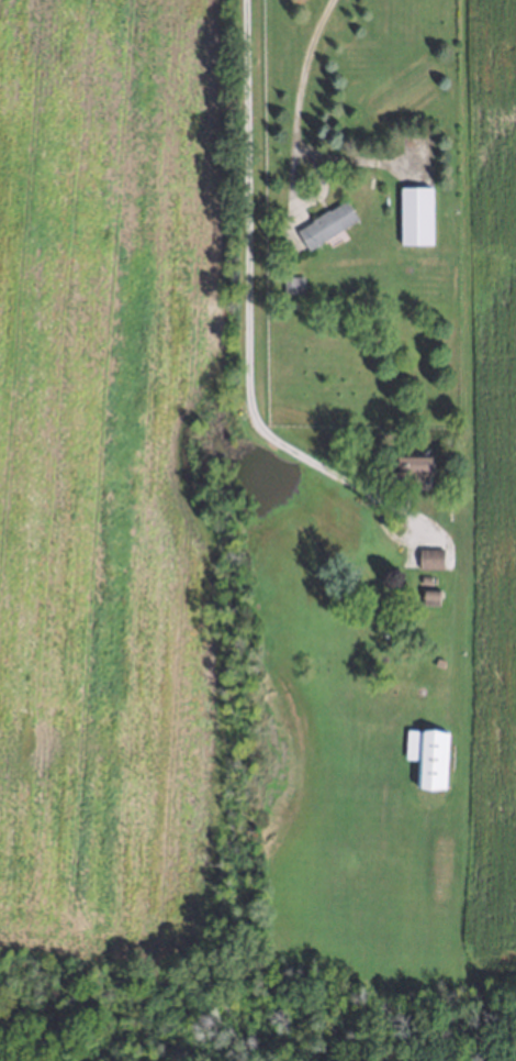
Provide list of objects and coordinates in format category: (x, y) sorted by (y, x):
road: (292, 109)
building: (408, 212)
building: (324, 221)
building: (291, 281)
road: (244, 298)
building: (288, 306)
building: (413, 464)
building: (429, 556)
building: (423, 576)
building: (427, 594)
building: (436, 660)
building: (423, 752)

